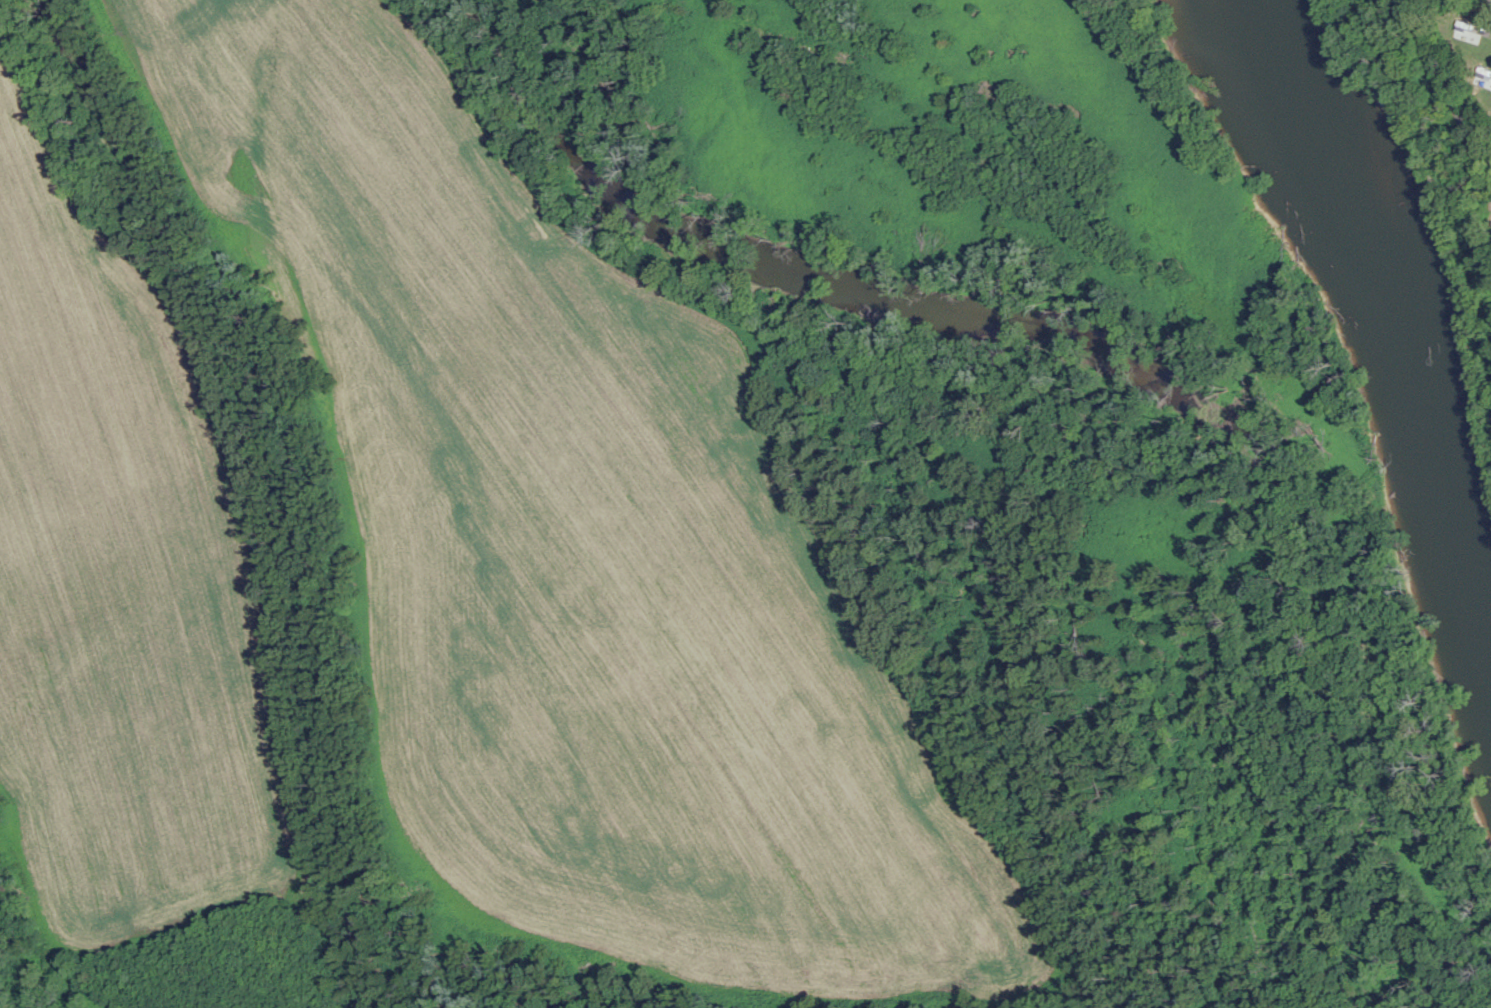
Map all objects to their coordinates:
road: (1490, 0)
building: (1484, 74)
river: (1392, 268)

